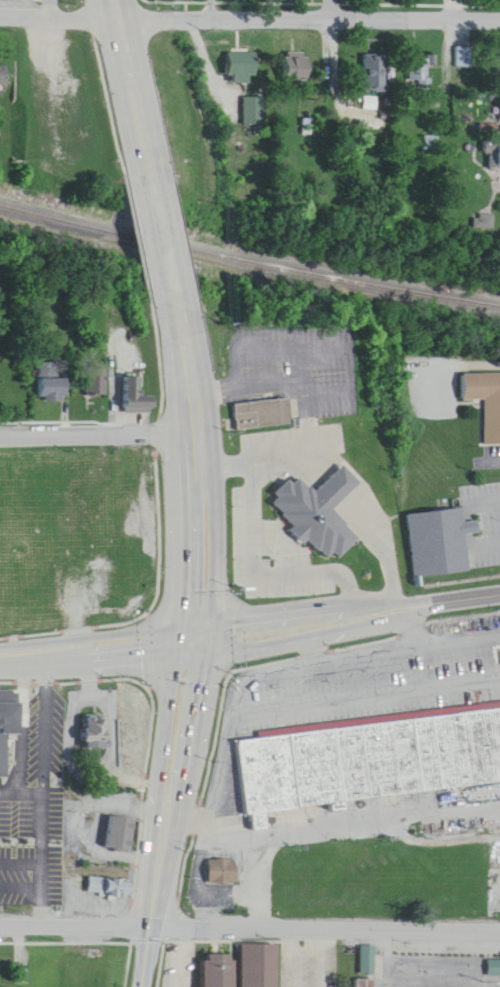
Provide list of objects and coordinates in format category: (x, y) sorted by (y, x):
road: (211, 3)
road: (249, 5)
building: (241, 67)
building: (294, 68)
building: (371, 73)
building: (4, 75)
road: (131, 78)
road: (324, 108)
building: (498, 108)
building: (253, 111)
building: (492, 156)
railway: (249, 248)
road: (177, 286)
road: (326, 336)
road: (302, 356)
road: (160, 374)
building: (94, 381)
road: (322, 388)
building: (53, 389)
building: (484, 389)
building: (134, 395)
road: (79, 409)
building: (263, 414)
road: (98, 422)
road: (292, 445)
road: (484, 489)
building: (316, 495)
road: (379, 524)
road: (200, 526)
building: (438, 527)
road: (489, 532)
road: (258, 553)
road: (462, 567)
road: (449, 600)
road: (296, 609)
road: (419, 620)
road: (299, 639)
road: (149, 640)
road: (98, 645)
road: (316, 645)
road: (283, 659)
road: (232, 660)
road: (192, 667)
road: (68, 670)
parking lot: (371, 672)
road: (367, 680)
building: (5, 700)
road: (49, 716)
building: (89, 718)
building: (97, 733)
building: (56, 744)
building: (368, 746)
road: (12, 780)
road: (39, 781)
road: (341, 810)
road: (170, 811)
building: (120, 818)
road: (145, 823)
road: (23, 850)
building: (222, 859)
building: (110, 872)
building: (224, 872)
road: (24, 876)
building: (109, 887)
road: (250, 915)
parking lot: (438, 928)
road: (228, 929)
road: (69, 930)
road: (155, 930)
building: (367, 946)
road: (185, 950)
park: (421, 951)
park: (493, 953)
parking lot: (312, 955)
building: (240, 959)
parking lot: (183, 960)
building: (494, 967)
building: (364, 976)
park: (491, 983)
road: (315, 984)

